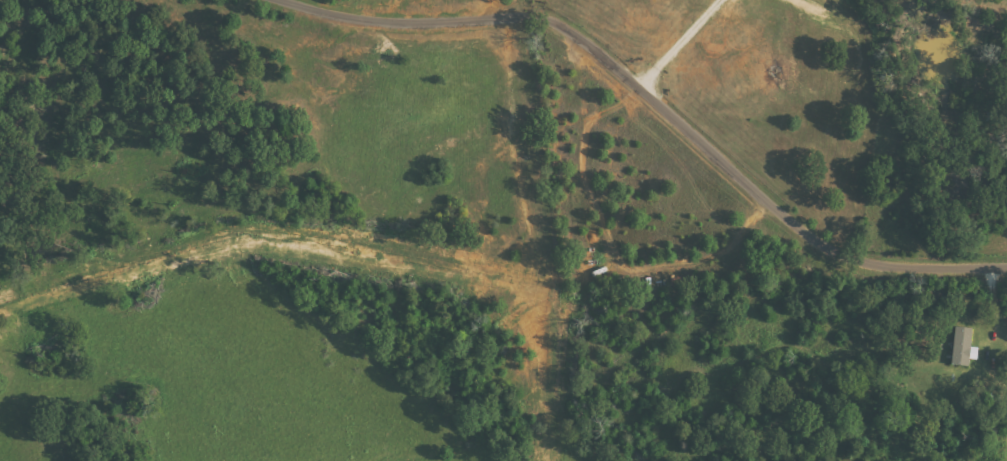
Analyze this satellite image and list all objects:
road: (656, 102)
building: (960, 348)

